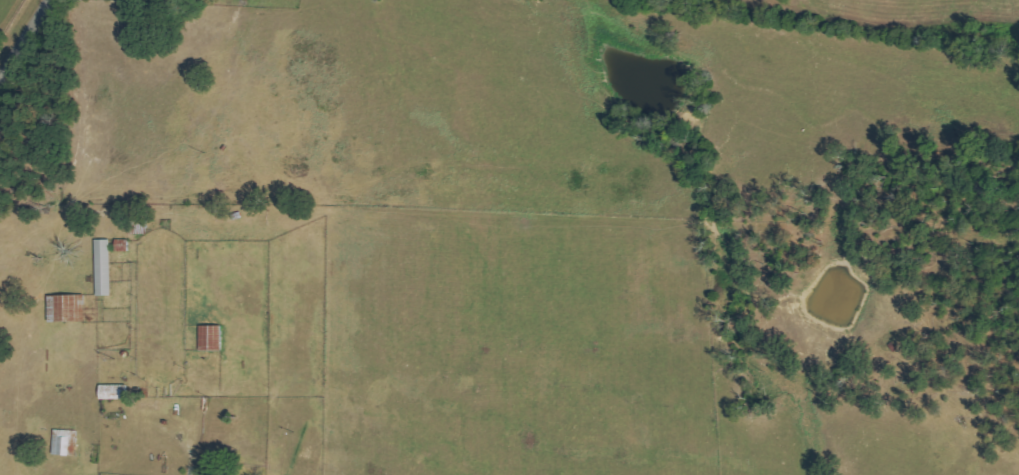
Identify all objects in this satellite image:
road: (25, 38)
building: (105, 267)
building: (68, 307)
building: (212, 337)
building: (115, 391)
building: (66, 442)
road: (189, 470)

